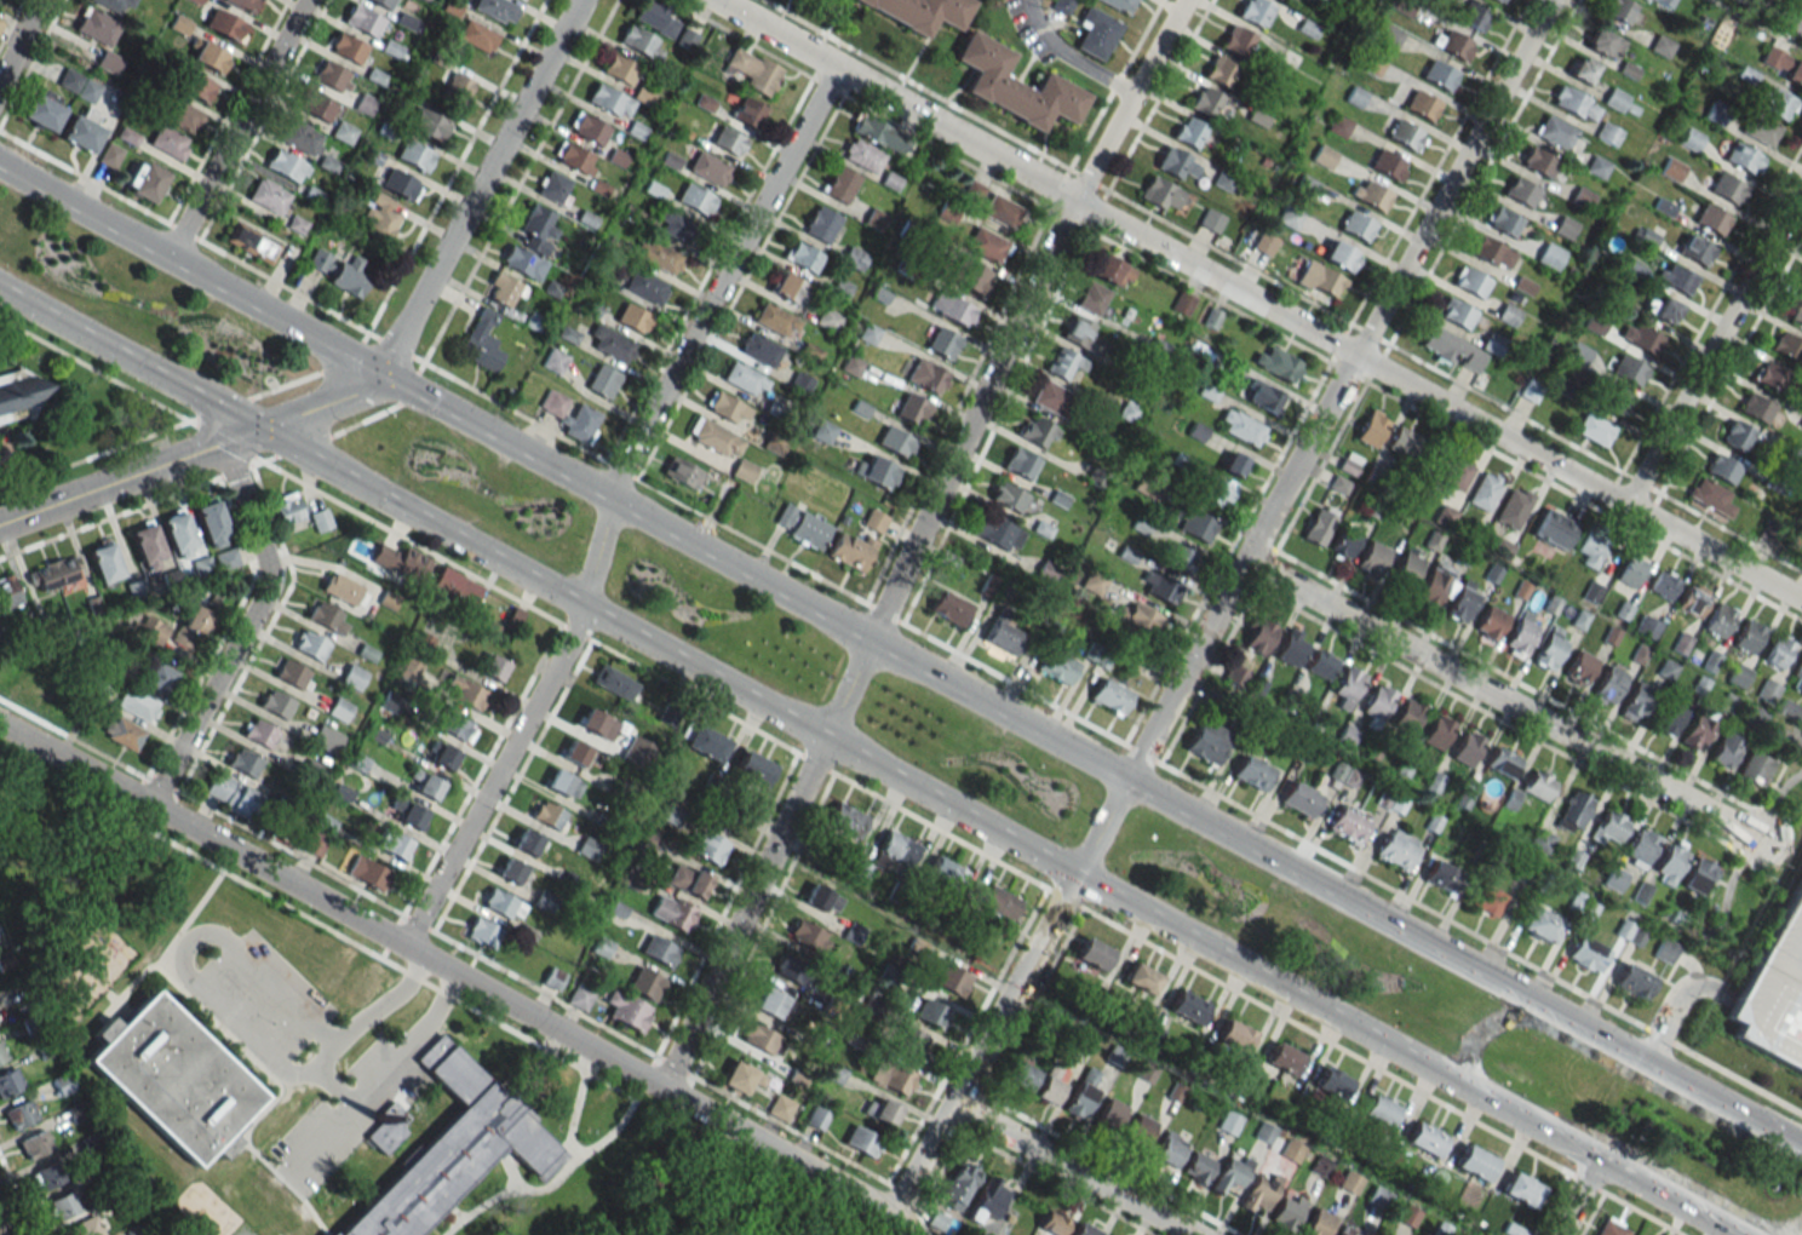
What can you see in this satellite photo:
building: (1496, 0)
building: (1499, 0)
road: (1801, 0)
building: (383, 4)
building: (1660, 4)
building: (115, 5)
building: (245, 5)
building: (1061, 6)
building: (492, 8)
building: (1618, 10)
building: (1253, 11)
building: (916, 12)
road: (1775, 13)
building: (1473, 16)
building: (655, 18)
building: (0, 21)
building: (362, 21)
building: (223, 24)
road: (1756, 24)
building: (1096, 33)
building: (475, 35)
building: (1389, 36)
road: (19, 40)
building: (1236, 40)
building: (641, 42)
building: (1603, 44)
building: (1454, 45)
building: (1660, 45)
building: (346, 47)
building: (210, 56)
road: (1069, 57)
building: (1781, 64)
building: (619, 69)
building: (1582, 69)
building: (753, 70)
building: (1219, 70)
building: (1437, 75)
building: (332, 76)
building: (78, 85)
building: (194, 86)
building: (1011, 87)
building: (455, 88)
building: (608, 100)
building: (1571, 100)
building: (1777, 100)
building: (1205, 102)
building: (1421, 104)
building: (315, 105)
building: (42, 110)
building: (747, 111)
building: (182, 115)
building: (426, 123)
building: (1337, 126)
road: (236, 128)
building: (587, 128)
building: (1757, 128)
building: (81, 130)
building: (1188, 131)
building: (1553, 131)
building: (343, 132)
building: (879, 133)
building: (1607, 133)
building: (1402, 134)
building: (299, 137)
building: (1689, 139)
building: (728, 140)
building: (167, 142)
building: (413, 154)
building: (109, 155)
building: (861, 155)
building: (1322, 156)
building: (1741, 156)
building: (573, 157)
building: (1176, 163)
building: (1385, 163)
building: (1536, 163)
building: (283, 165)
building: (710, 168)
building: (1671, 168)
building: (144, 180)
building: (1223, 180)
road: (1427, 180)
building: (400, 184)
building: (839, 184)
building: (552, 186)
road: (478, 188)
building: (1726, 189)
building: (1520, 191)
building: (971, 193)
building: (1160, 194)
building: (1372, 195)
building: (268, 196)
building: (1582, 196)
building: (694, 199)
building: (1000, 211)
building: (379, 217)
building: (1711, 219)
building: (1210, 220)
building: (1503, 222)
building: (820, 224)
building: (1356, 226)
building: (536, 228)
building: (251, 242)
building: (1263, 242)
building: (986, 245)
building: (1487, 251)
building: (1695, 251)
road: (1172, 254)
building: (660, 255)
building: (1339, 255)
building: (1550, 255)
building: (802, 257)
building: (853, 258)
building: (317, 259)
building: (521, 263)
road: (190, 269)
building: (1111, 271)
building: (349, 275)
building: (971, 277)
building: (1677, 280)
building: (1325, 282)
building: (1471, 282)
building: (644, 287)
building: (788, 288)
building: (504, 289)
building: (1091, 298)
building: (1182, 303)
building: (951, 308)
building: (1660, 308)
building: (1457, 312)
building: (1796, 312)
building: (631, 317)
building: (775, 320)
building: (827, 320)
building: (867, 333)
building: (1081, 337)
building: (1640, 337)
building: (481, 341)
building: (609, 343)
building: (942, 343)
building: (1492, 343)
road: (1715, 343)
building: (1785, 347)
building: (758, 349)
building: (1452, 349)
building: (1578, 352)
road: (408, 355)
building: (553, 360)
building: (1064, 363)
building: (1276, 364)
building: (1628, 370)
building: (925, 375)
traffic signals: (380, 377)
building: (1767, 378)
building: (744, 379)
building: (602, 380)
building: (799, 383)
building: (17, 395)
building: (1048, 395)
building: (1263, 397)
building: (1613, 401)
building: (775, 403)
building: (725, 407)
building: (1755, 408)
building: (912, 409)
building: (585, 417)
building: (1801, 424)
building: (1240, 427)
building: (1371, 427)
building: (1594, 429)
traffic signals: (259, 430)
building: (822, 431)
building: (1037, 431)
building: (1737, 435)
building: (715, 438)
building: (895, 442)
building: (1402, 442)
building: (773, 444)
road: (191, 454)
building: (1795, 458)
building: (1020, 464)
building: (1233, 464)
building: (1721, 467)
building: (742, 470)
building: (874, 471)
building: (681, 472)
building: (1453, 472)
building: (1778, 484)
building: (1484, 490)
building: (1216, 493)
building: (1008, 496)
building: (1712, 496)
road: (607, 502)
building: (1513, 507)
building: (286, 510)
building: (1444, 516)
building: (318, 519)
building: (874, 521)
building: (211, 523)
building: (1195, 524)
building: (800, 525)
building: (1318, 525)
building: (988, 528)
building: (1551, 528)
building: (1771, 529)
building: (177, 534)
road: (916, 540)
building: (1343, 541)
building: (147, 545)
building: (850, 551)
building: (1589, 551)
road: (1716, 552)
building: (1176, 555)
building: (1371, 558)
building: (224, 559)
building: (103, 561)
building: (401, 561)
building: (1407, 565)
building: (1630, 570)
building: (1046, 571)
building: (54, 573)
building: (1092, 582)
building: (1662, 584)
building: (454, 587)
building: (1159, 587)
building: (1430, 587)
building: (340, 588)
building: (7, 596)
building: (1693, 599)
building: (1460, 603)
road: (1219, 605)
building: (948, 607)
building: (321, 615)
building: (1137, 616)
building: (1718, 619)
building: (1490, 622)
building: (191, 625)
building: (1646, 626)
building: (151, 628)
road: (245, 631)
building: (1002, 634)
building: (1520, 634)
building: (1259, 636)
building: (1748, 636)
building: (310, 645)
building: (1291, 648)
building: (1549, 649)
building: (1777, 650)
building: (1321, 664)
building: (1056, 666)
building: (492, 667)
building: (1579, 667)
building: (1666, 667)
building: (408, 670)
building: (1797, 670)
building: (291, 674)
building: (157, 676)
building: (1738, 676)
building: (352, 677)
building: (36, 680)
building: (613, 682)
building: (1608, 683)
building: (1348, 687)
building: (1768, 689)
building: (464, 691)
building: (1109, 696)
building: (1639, 699)
building: (1377, 701)
road: (1503, 702)
building: (136, 703)
building: (274, 703)
building: (339, 708)
building: (664, 711)
building: (1407, 714)
building: (1668, 717)
building: (597, 723)
building: (455, 725)
building: (1437, 731)
building: (1695, 731)
building: (121, 733)
building: (258, 733)
building: (1779, 733)
road: (1112, 737)
building: (326, 739)
building: (1206, 741)
building: (704, 742)
building: (1467, 747)
building: (1726, 749)
building: (574, 752)
building: (636, 752)
building: (442, 757)
road: (1092, 760)
building: (1502, 760)
building: (241, 762)
road: (868, 763)
building: (1756, 766)
building: (752, 768)
building: (1252, 771)
building: (562, 783)
building: (1538, 785)
building: (426, 786)
building: (230, 794)
building: (1299, 798)
building: (1573, 810)
road: (163, 812)
building: (409, 814)
building: (546, 814)
building: (671, 814)
building: (845, 818)
building: (1348, 825)
building: (1608, 827)
building: (1540, 839)
building: (524, 840)
building: (314, 841)
building: (392, 844)
building: (705, 845)
building: (587, 846)
building: (1396, 848)
building: (1640, 848)
building: (894, 851)
building: (1670, 863)
building: (510, 869)
building: (367, 872)
building: (946, 873)
building: (1442, 875)
building: (1698, 877)
building: (688, 879)
building: (1613, 879)
building: (816, 896)
building: (1487, 900)
building: (999, 902)
building: (501, 904)
building: (670, 911)
building: (1540, 925)
building: (481, 931)
building: (1630, 931)
road: (391, 936)
building: (808, 936)
road: (365, 949)
building: (658, 949)
building: (1665, 950)
road: (159, 953)
building: (1586, 953)
building: (1092, 954)
building: (790, 969)
road: (455, 975)
building: (552, 977)
building: (1141, 977)
road: (134, 978)
building: (951, 978)
building: (1634, 981)
building: (644, 982)
building: (1774, 989)
parking lot: (1774, 989)
building: (579, 996)
building: (770, 1003)
building: (1188, 1006)
road: (1678, 1006)
road: (217, 1010)
building: (626, 1010)
building: (930, 1012)
helipad: (1783, 1019)
road: (1488, 1026)
building: (1234, 1034)
building: (758, 1038)
building: (907, 1040)
building: (1, 1053)
road: (248, 1056)
building: (1284, 1058)
road: (1362, 1061)
road: (543, 1065)
road: (277, 1074)
building: (1020, 1074)
building: (890, 1075)
building: (174, 1076)
building: (738, 1076)
road: (372, 1080)
building: (8, 1081)
building: (1050, 1082)
building: (1332, 1082)
road: (334, 1084)
building: (1081, 1092)
road: (575, 1104)
building: (779, 1107)
building: (1378, 1109)
building: (880, 1110)
building: (19, 1114)
building: (1109, 1114)
building: (816, 1116)
building: (386, 1127)
building: (1138, 1131)
building: (1425, 1138)
building: (862, 1141)
building: (34, 1144)
building: (455, 1147)
building: (1165, 1149)
building: (1474, 1161)
building: (1196, 1165)
road: (511, 1167)
road: (567, 1167)
road: (1071, 1170)
building: (1229, 1173)
building: (46, 1176)
building: (1349, 1182)
building: (958, 1185)
building: (1521, 1189)
park: (704, 1191)
road: (1578, 1195)
building: (992, 1201)
building: (62, 1205)
building: (1286, 1211)
road: (450, 1214)
road: (8, 1216)
building: (1052, 1222)
building: (1318, 1222)
building: (86, 1227)
building: (1611, 1227)
building: (1083, 1229)
building: (1348, 1230)
road: (1792, 1230)
road: (706, 1231)
building: (332, 1234)
building: (1640, 1234)

